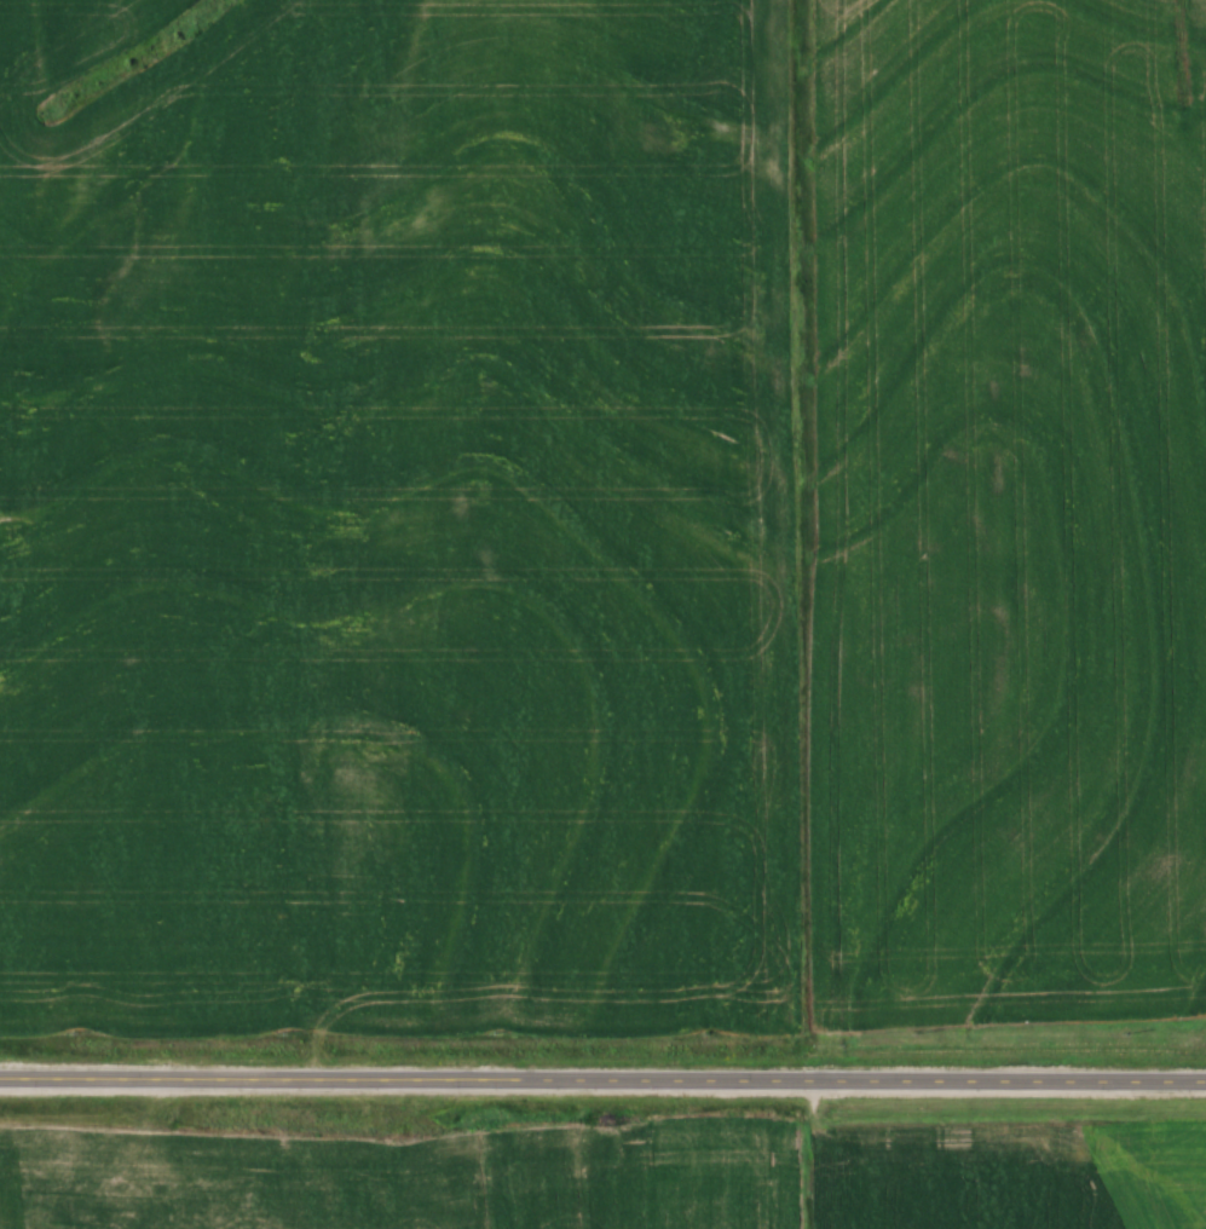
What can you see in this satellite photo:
road: (602, 1080)

